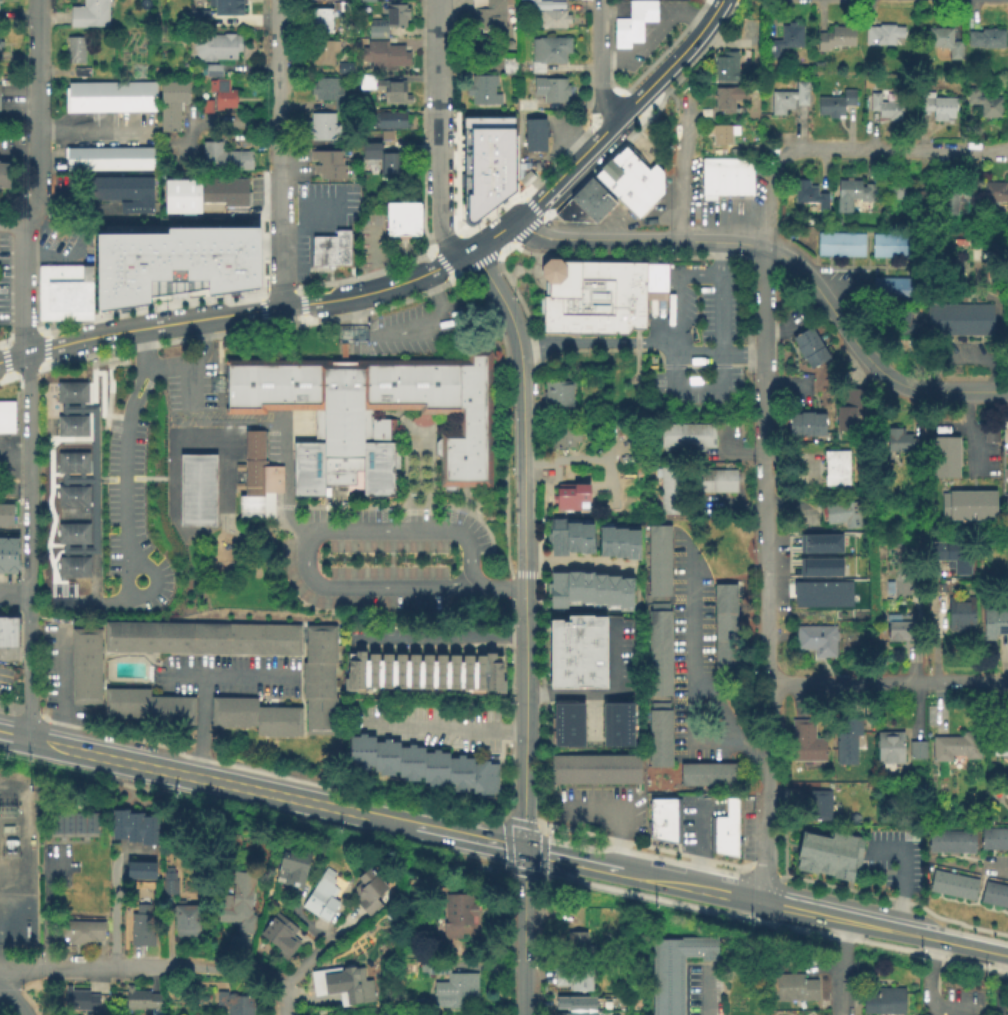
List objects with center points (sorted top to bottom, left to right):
building: (324, 0)
road: (599, 1)
building: (366, 2)
building: (222, 9)
building: (89, 15)
building: (550, 15)
building: (486, 17)
building: (323, 20)
building: (388, 21)
building: (632, 21)
road: (651, 29)
road: (435, 34)
building: (882, 36)
building: (835, 39)
building: (783, 40)
building: (986, 40)
road: (37, 43)
building: (944, 43)
building: (1, 44)
building: (215, 48)
building: (77, 50)
building: (547, 53)
building: (322, 55)
building: (384, 56)
road: (599, 61)
building: (725, 65)
building: (347, 67)
building: (509, 67)
building: (212, 72)
building: (81, 73)
road: (276, 84)
building: (384, 90)
road: (436, 90)
building: (550, 90)
building: (481, 91)
building: (327, 92)
building: (174, 93)
building: (222, 95)
building: (122, 97)
building: (77, 98)
building: (788, 99)
building: (723, 100)
building: (835, 105)
building: (984, 105)
building: (525, 106)
building: (205, 107)
building: (936, 107)
building: (169, 110)
building: (888, 111)
road: (619, 112)
building: (388, 120)
building: (169, 125)
road: (210, 125)
building: (321, 127)
road: (91, 129)
building: (721, 134)
building: (534, 136)
road: (893, 150)
road: (18, 151)
road: (37, 158)
building: (327, 158)
building: (109, 159)
building: (223, 159)
building: (486, 159)
building: (384, 161)
building: (329, 171)
building: (525, 174)
building: (8, 175)
building: (739, 177)
building: (629, 178)
road: (681, 179)
building: (713, 179)
road: (437, 186)
building: (121, 192)
building: (202, 192)
building: (994, 193)
building: (810, 196)
building: (853, 196)
building: (909, 196)
building: (955, 197)
building: (590, 198)
road: (771, 202)
building: (564, 208)
building: (576, 215)
building: (403, 219)
road: (10, 226)
road: (245, 235)
road: (277, 238)
road: (637, 239)
building: (828, 246)
building: (852, 247)
building: (883, 248)
building: (906, 248)
building: (331, 251)
road: (59, 258)
flagpole: (529, 258)
road: (375, 261)
building: (171, 266)
road: (470, 266)
road: (447, 270)
building: (64, 271)
road: (833, 275)
building: (199, 280)
building: (236, 280)
building: (159, 287)
road: (676, 287)
road: (20, 289)
building: (883, 290)
building: (907, 291)
building: (603, 292)
building: (122, 293)
road: (499, 297)
building: (45, 298)
building: (72, 298)
building: (1007, 302)
road: (353, 307)
road: (264, 309)
road: (764, 309)
building: (550, 311)
road: (302, 312)
road: (831, 312)
building: (986, 317)
road: (261, 318)
building: (931, 318)
building: (942, 318)
building: (953, 318)
building: (964, 318)
building: (975, 318)
road: (425, 323)
building: (904, 325)
road: (256, 327)
road: (358, 329)
road: (781, 332)
building: (1007, 337)
building: (803, 338)
road: (596, 343)
building: (807, 349)
road: (720, 354)
road: (43, 356)
road: (92, 356)
road: (721, 357)
building: (816, 359)
road: (171, 363)
road: (35, 368)
road: (109, 376)
road: (134, 382)
road: (92, 385)
building: (357, 386)
road: (145, 387)
road: (785, 390)
road: (950, 390)
parking lot: (187, 391)
building: (557, 397)
building: (850, 410)
building: (6, 412)
road: (117, 415)
road: (504, 416)
building: (805, 424)
road: (250, 425)
building: (793, 425)
building: (818, 426)
building: (6, 428)
road: (954, 428)
road: (521, 431)
road: (970, 432)
building: (989, 433)
building: (564, 434)
building: (687, 436)
building: (907, 438)
building: (1007, 451)
building: (945, 457)
road: (13, 460)
building: (835, 468)
park: (284, 470)
road: (92, 477)
building: (79, 478)
building: (669, 479)
building: (256, 480)
building: (700, 481)
building: (723, 481)
building: (197, 491)
park: (197, 491)
building: (569, 498)
building: (669, 503)
building: (968, 506)
road: (28, 507)
building: (5, 515)
building: (842, 515)
road: (124, 527)
building: (572, 535)
road: (302, 537)
building: (556, 537)
building: (586, 537)
building: (605, 540)
building: (619, 541)
building: (819, 542)
building: (632, 543)
road: (522, 546)
road: (48, 553)
building: (952, 555)
building: (1, 556)
building: (11, 557)
parking lot: (386, 560)
building: (659, 561)
road: (578, 563)
building: (819, 566)
road: (516, 572)
road: (93, 577)
road: (510, 579)
road: (498, 586)
building: (573, 587)
building: (557, 589)
building: (586, 590)
building: (599, 592)
building: (821, 592)
road: (15, 593)
building: (612, 593)
building: (626, 595)
building: (960, 615)
building: (994, 622)
building: (724, 627)
building: (900, 631)
building: (0, 633)
building: (9, 633)
road: (764, 636)
road: (436, 637)
building: (202, 640)
building: (816, 640)
building: (658, 649)
road: (14, 653)
building: (577, 653)
building: (85, 667)
building: (424, 673)
road: (696, 673)
road: (232, 677)
building: (319, 682)
road: (886, 683)
road: (59, 689)
road: (604, 694)
road: (30, 703)
building: (148, 708)
road: (522, 716)
building: (256, 717)
road: (592, 717)
road: (732, 721)
building: (618, 723)
building: (569, 725)
road: (198, 727)
road: (438, 729)
building: (659, 735)
road: (13, 738)
building: (847, 742)
building: (805, 743)
road: (43, 745)
building: (956, 747)
building: (889, 748)
building: (1000, 748)
building: (916, 751)
building: (424, 766)
building: (594, 767)
road: (196, 776)
building: (707, 776)
building: (1007, 803)
building: (819, 807)
building: (726, 817)
road: (614, 819)
building: (55, 820)
building: (67, 820)
building: (79, 820)
building: (92, 820)
building: (117, 821)
building: (663, 821)
building: (133, 825)
building: (149, 828)
road: (444, 830)
building: (994, 841)
building: (723, 843)
building: (952, 844)
road: (696, 846)
traffic signals: (522, 848)
building: (828, 852)
road: (134, 853)
road: (567, 858)
power substation: (16, 861)
building: (291, 865)
building: (140, 869)
road: (900, 876)
building: (168, 885)
building: (953, 887)
building: (368, 890)
building: (995, 896)
building: (321, 898)
building: (237, 902)
road: (44, 907)
building: (457, 911)
road: (810, 913)
road: (117, 914)
road: (300, 916)
building: (186, 919)
building: (142, 924)
road: (327, 925)
road: (343, 926)
building: (79, 929)
road: (523, 931)
building: (280, 934)
building: (575, 940)
road: (303, 964)
road: (840, 967)
road: (86, 968)
road: (228, 969)
building: (675, 971)
building: (574, 977)
building: (345, 983)
building: (450, 983)
road: (998, 985)
road: (927, 988)
building: (794, 989)
road: (702, 995)
building: (79, 998)
building: (141, 998)
road: (13, 1000)
road: (284, 1000)
building: (575, 1001)
building: (233, 1002)
building: (884, 1003)
building: (577, 1012)
building: (433, 1014)

